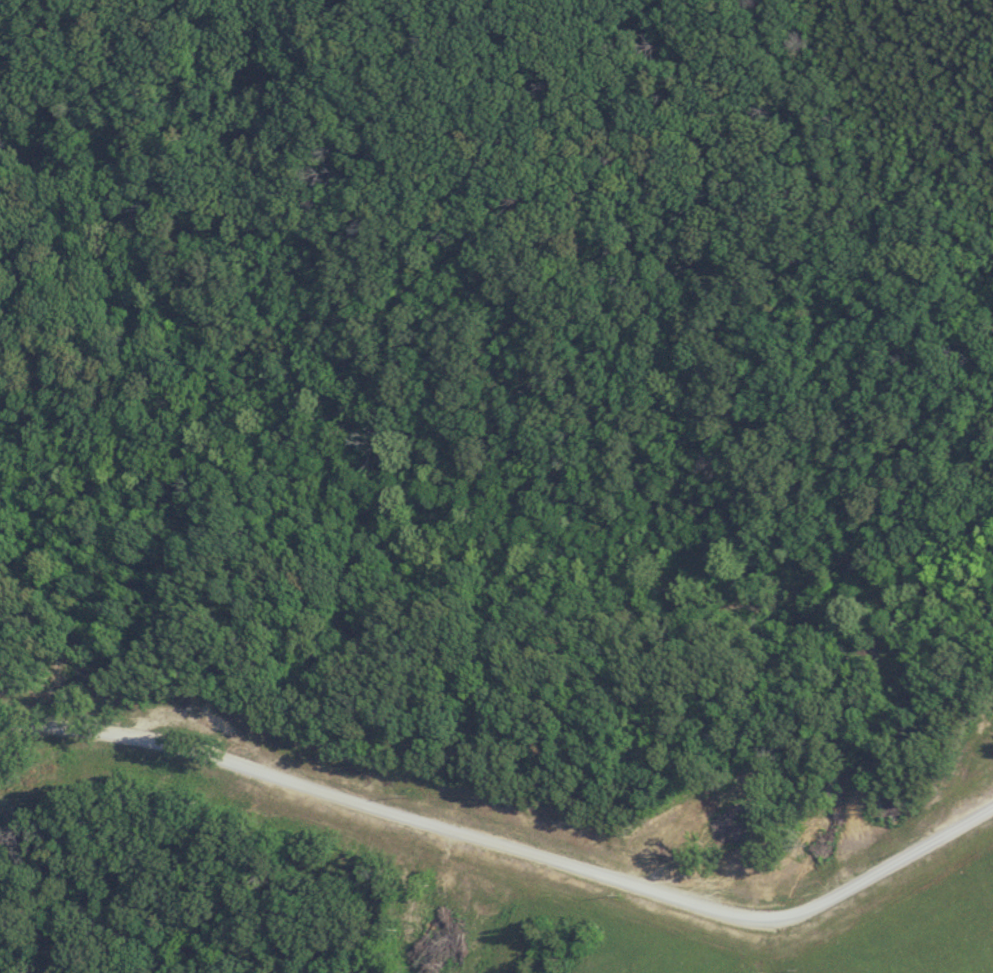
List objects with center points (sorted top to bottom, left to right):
road: (506, 840)

